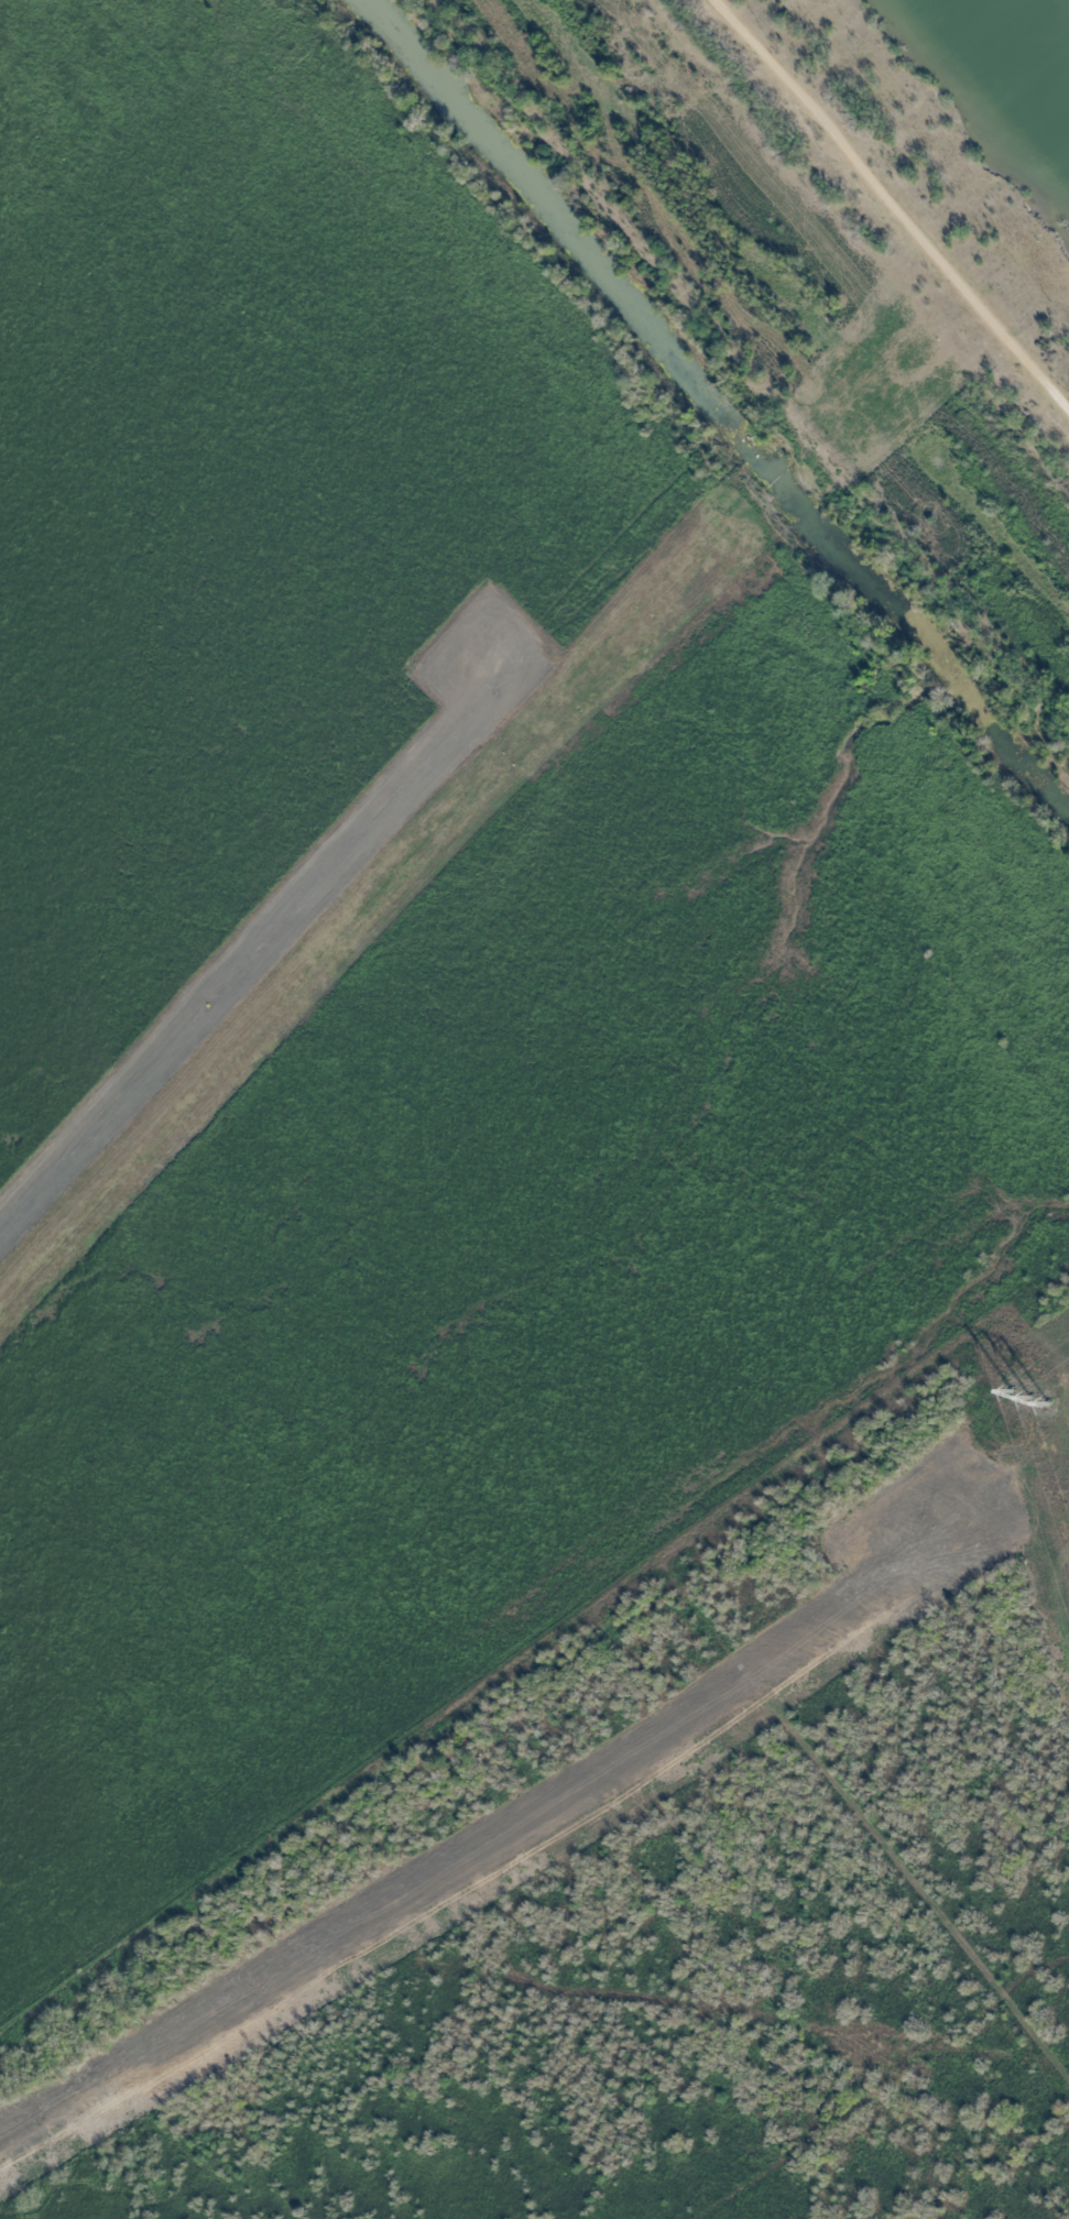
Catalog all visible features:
road: (895, 200)
road: (893, 391)
road: (787, 493)
road: (374, 898)
power tower: (1030, 1399)

